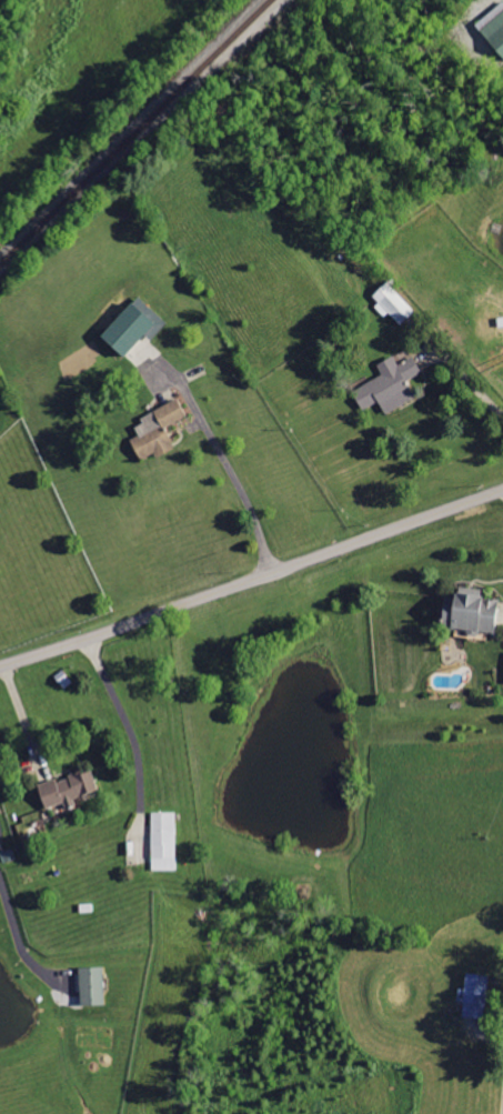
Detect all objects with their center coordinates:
building: (496, 30)
railway: (137, 132)
building: (394, 302)
building: (130, 327)
road: (467, 377)
building: (391, 384)
building: (159, 430)
road: (238, 481)
road: (252, 580)
building: (472, 611)
road: (123, 717)
building: (69, 789)
building: (164, 841)
building: (93, 985)
building: (476, 995)

